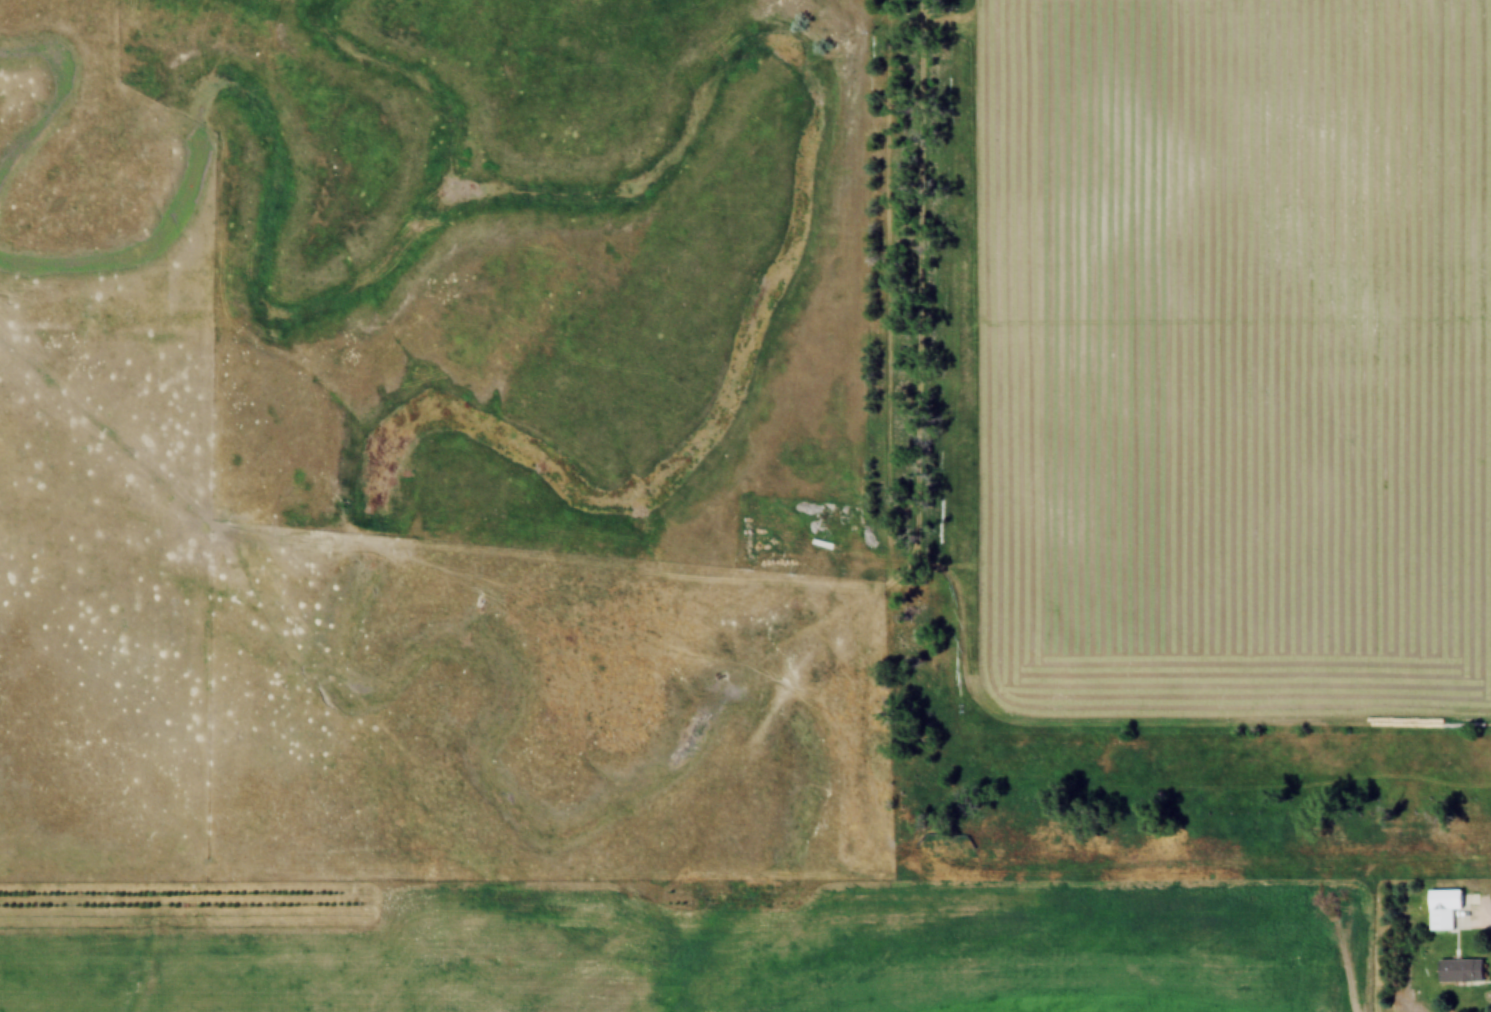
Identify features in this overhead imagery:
building: (1445, 909)
road: (1487, 925)
building: (1463, 971)

